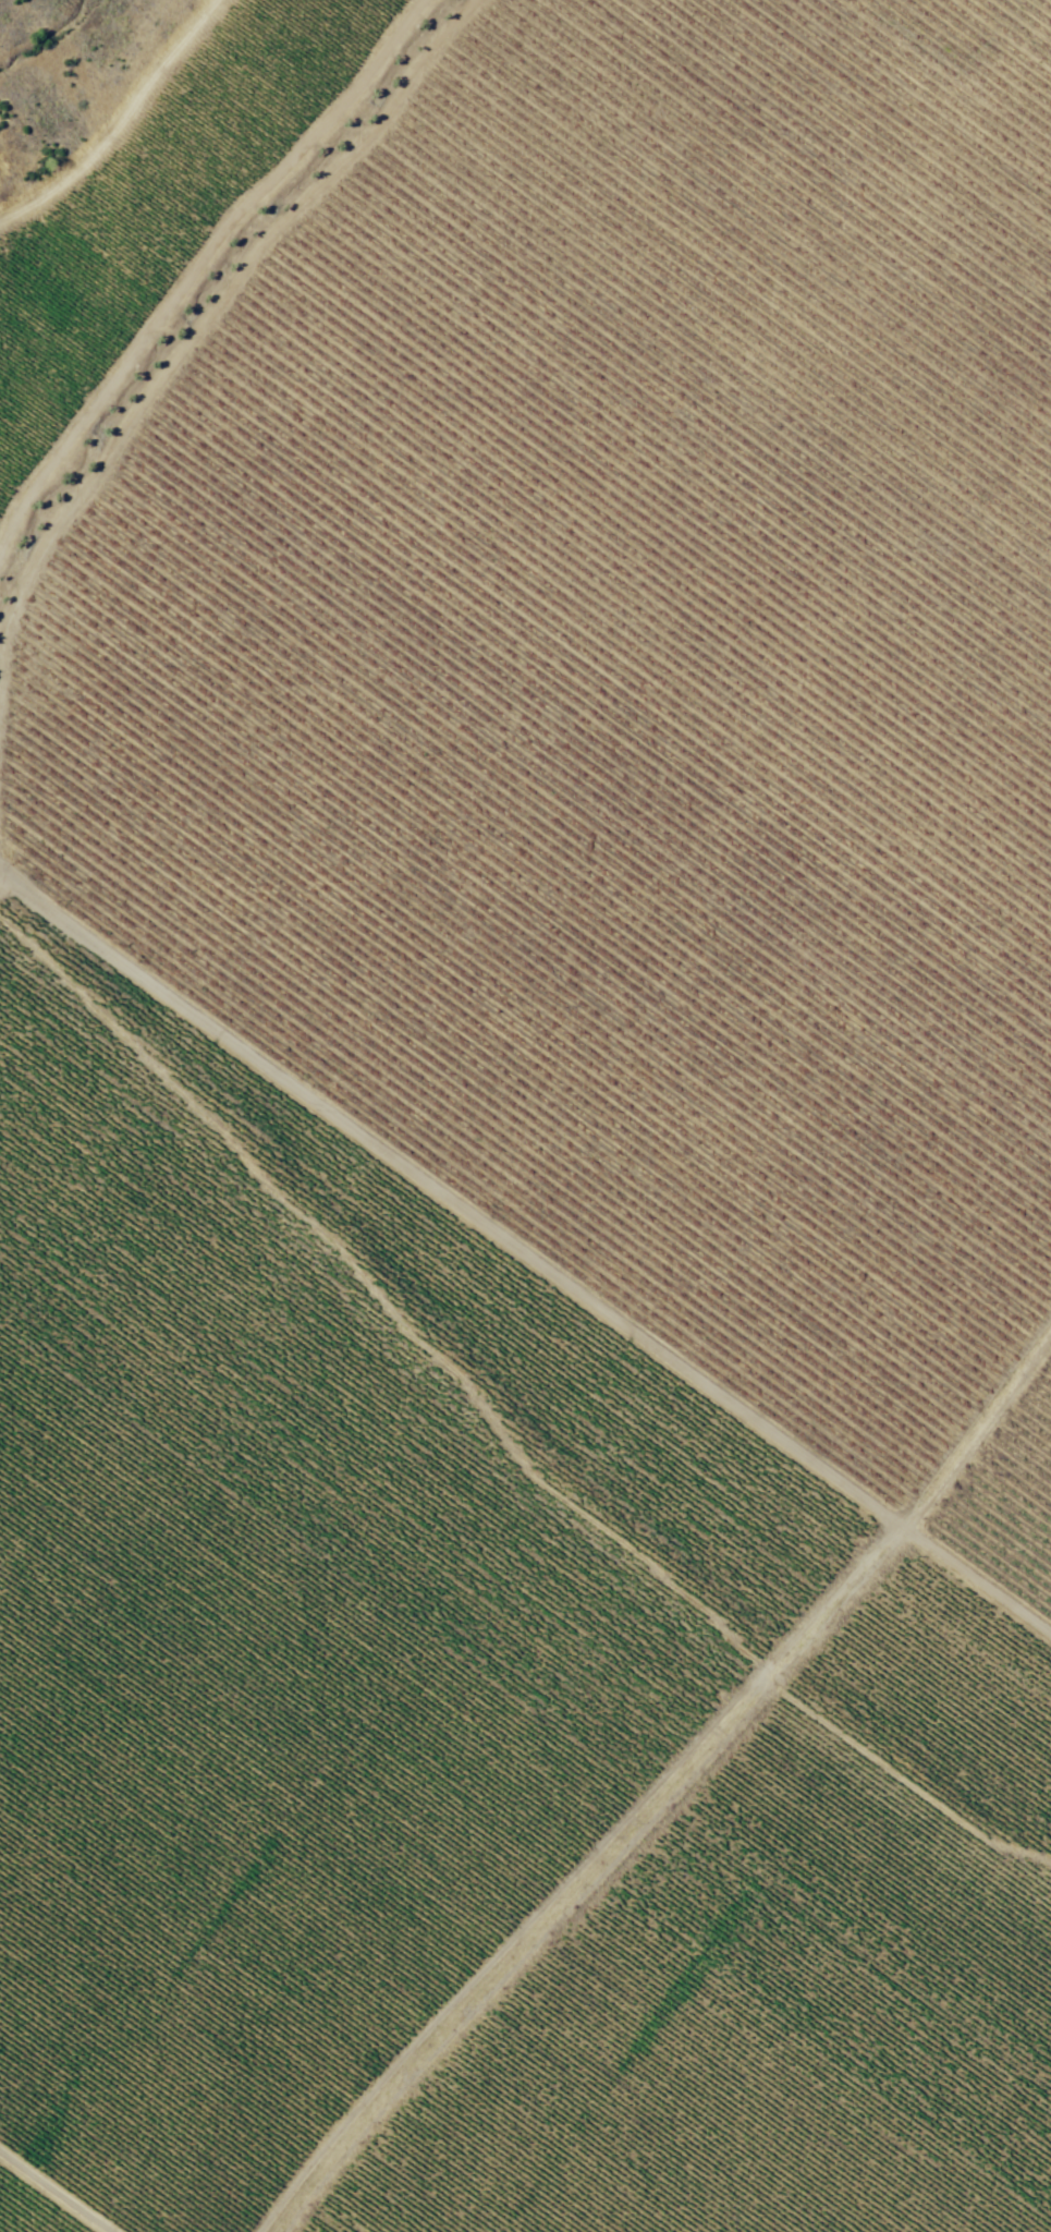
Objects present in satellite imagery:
road: (533, 1254)

